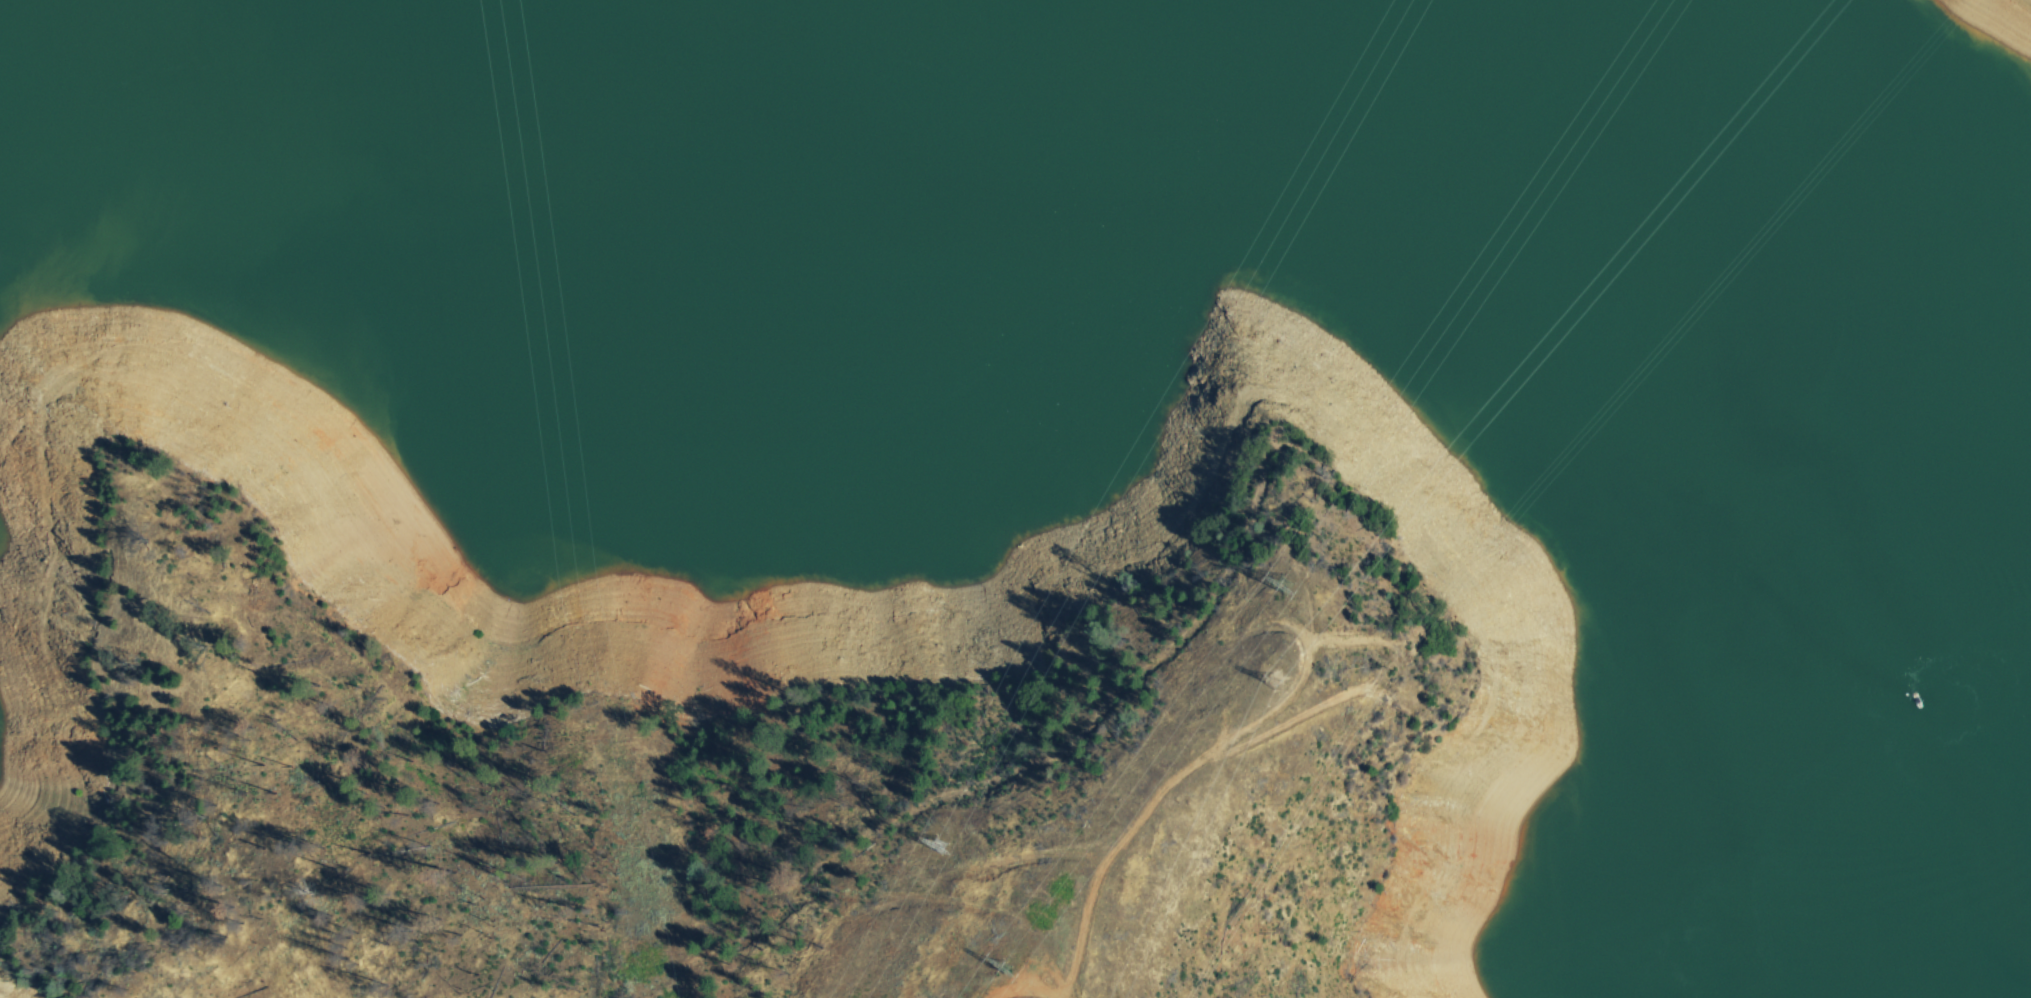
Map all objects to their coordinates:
river: (196, 77)
river: (1626, 499)
power tower: (1338, 532)
power tower: (1315, 642)
power tower: (967, 820)
power tower: (1039, 936)

